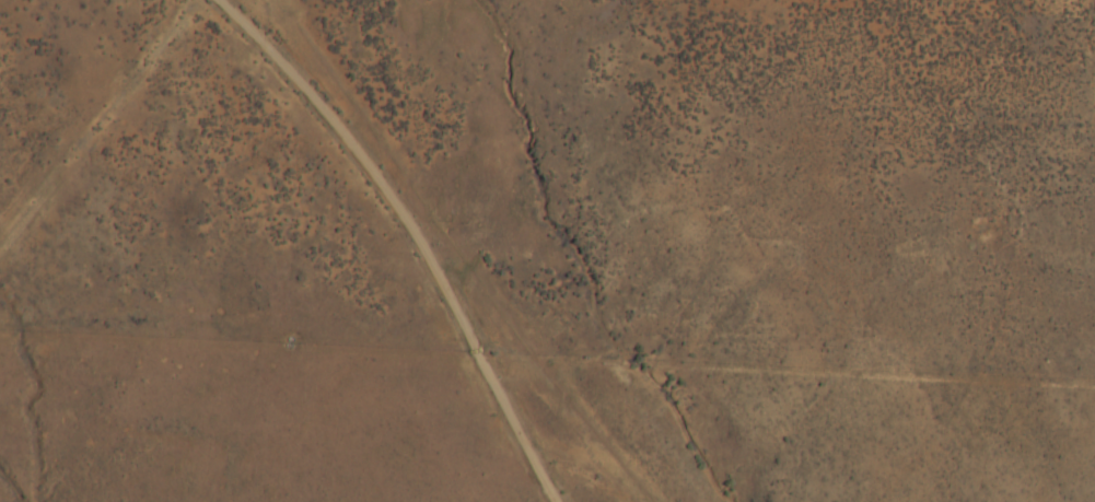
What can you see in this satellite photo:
building: (24, 19)
road: (340, 234)

